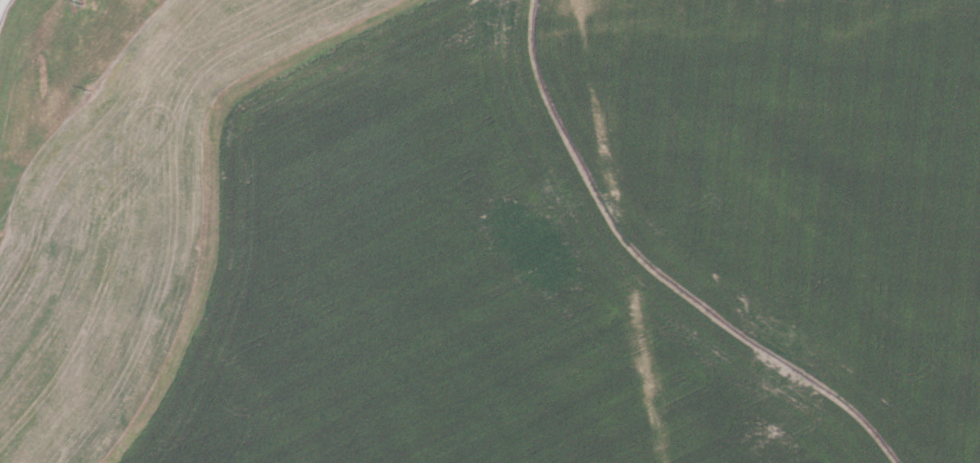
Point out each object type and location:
road: (2, 2)
crop: (124, 220)
crop: (601, 241)

